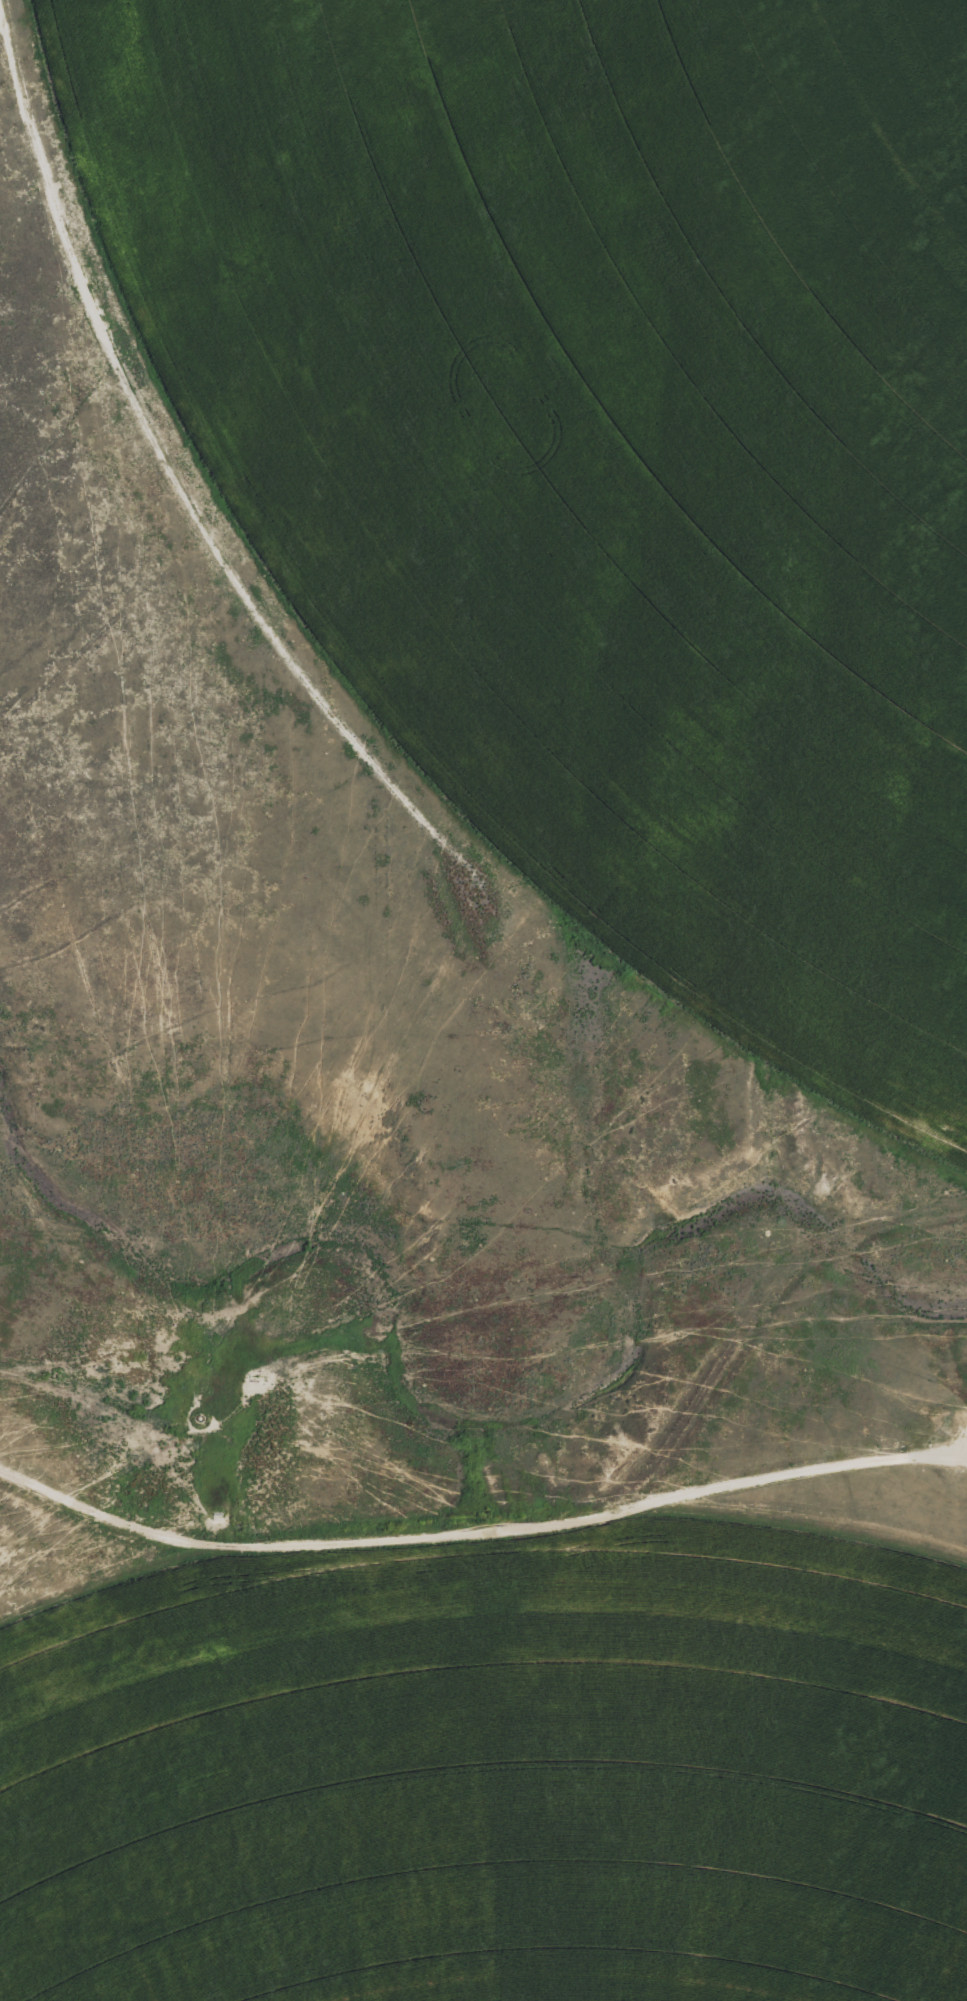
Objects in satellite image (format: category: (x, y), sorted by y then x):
crop: (604, 449)
crop: (492, 1772)

